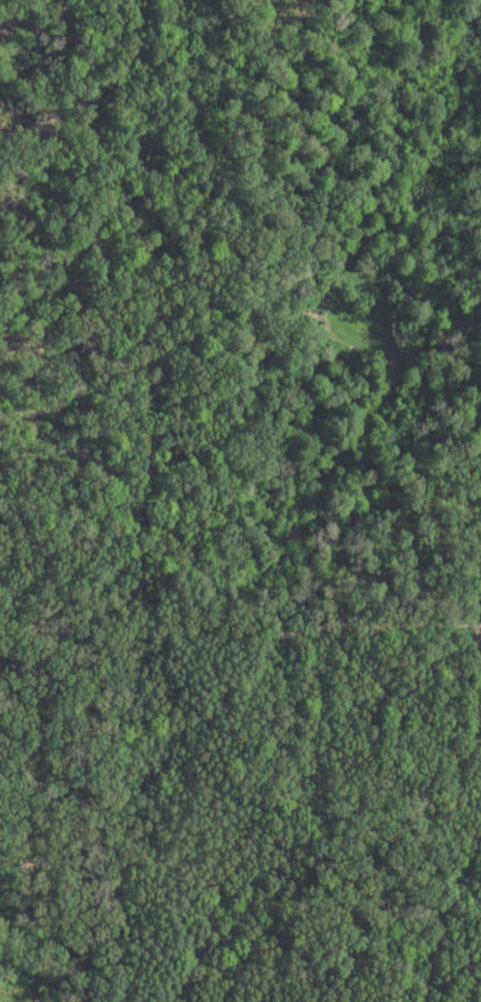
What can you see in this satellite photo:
road: (240, 600)

